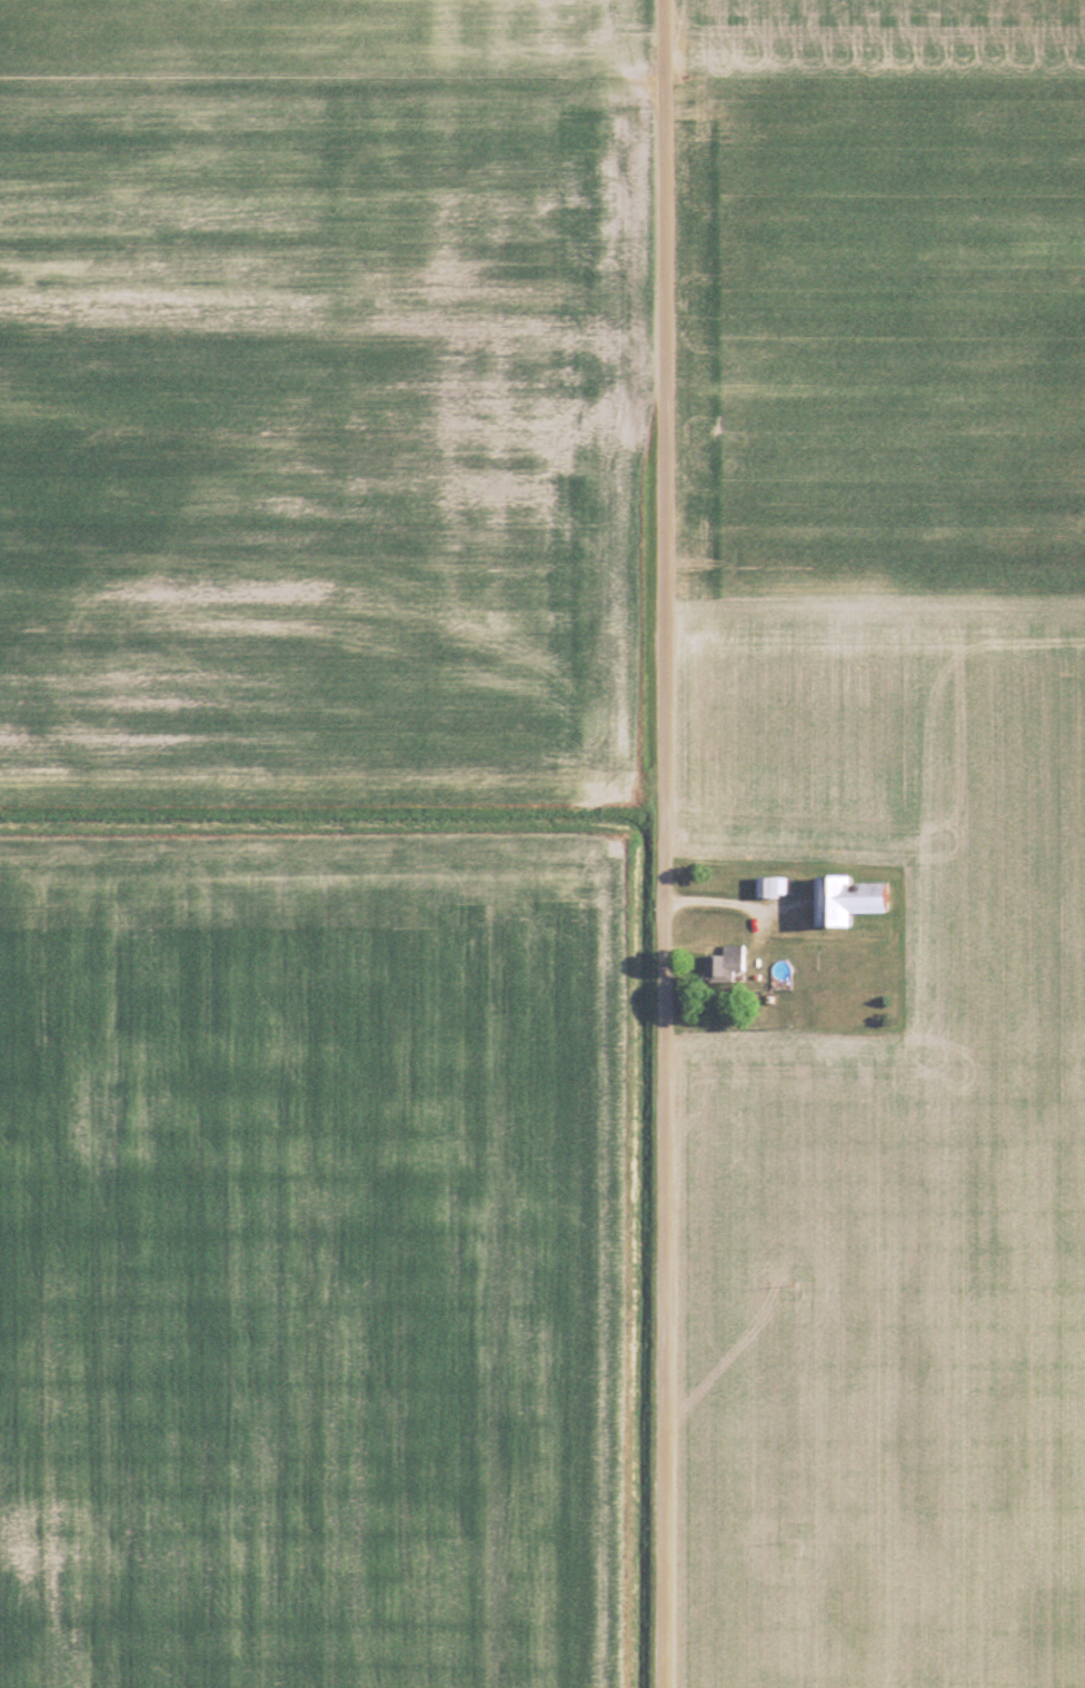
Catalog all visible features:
road: (663, 844)
building: (765, 888)
building: (843, 902)
building: (723, 965)

